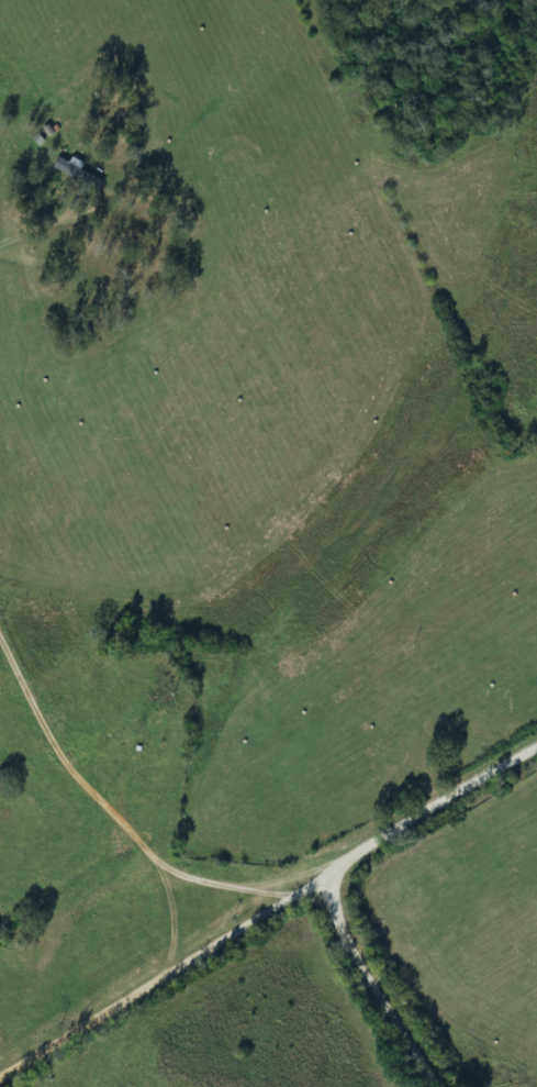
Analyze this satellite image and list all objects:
road: (419, 838)
road: (142, 925)
road: (379, 1009)

